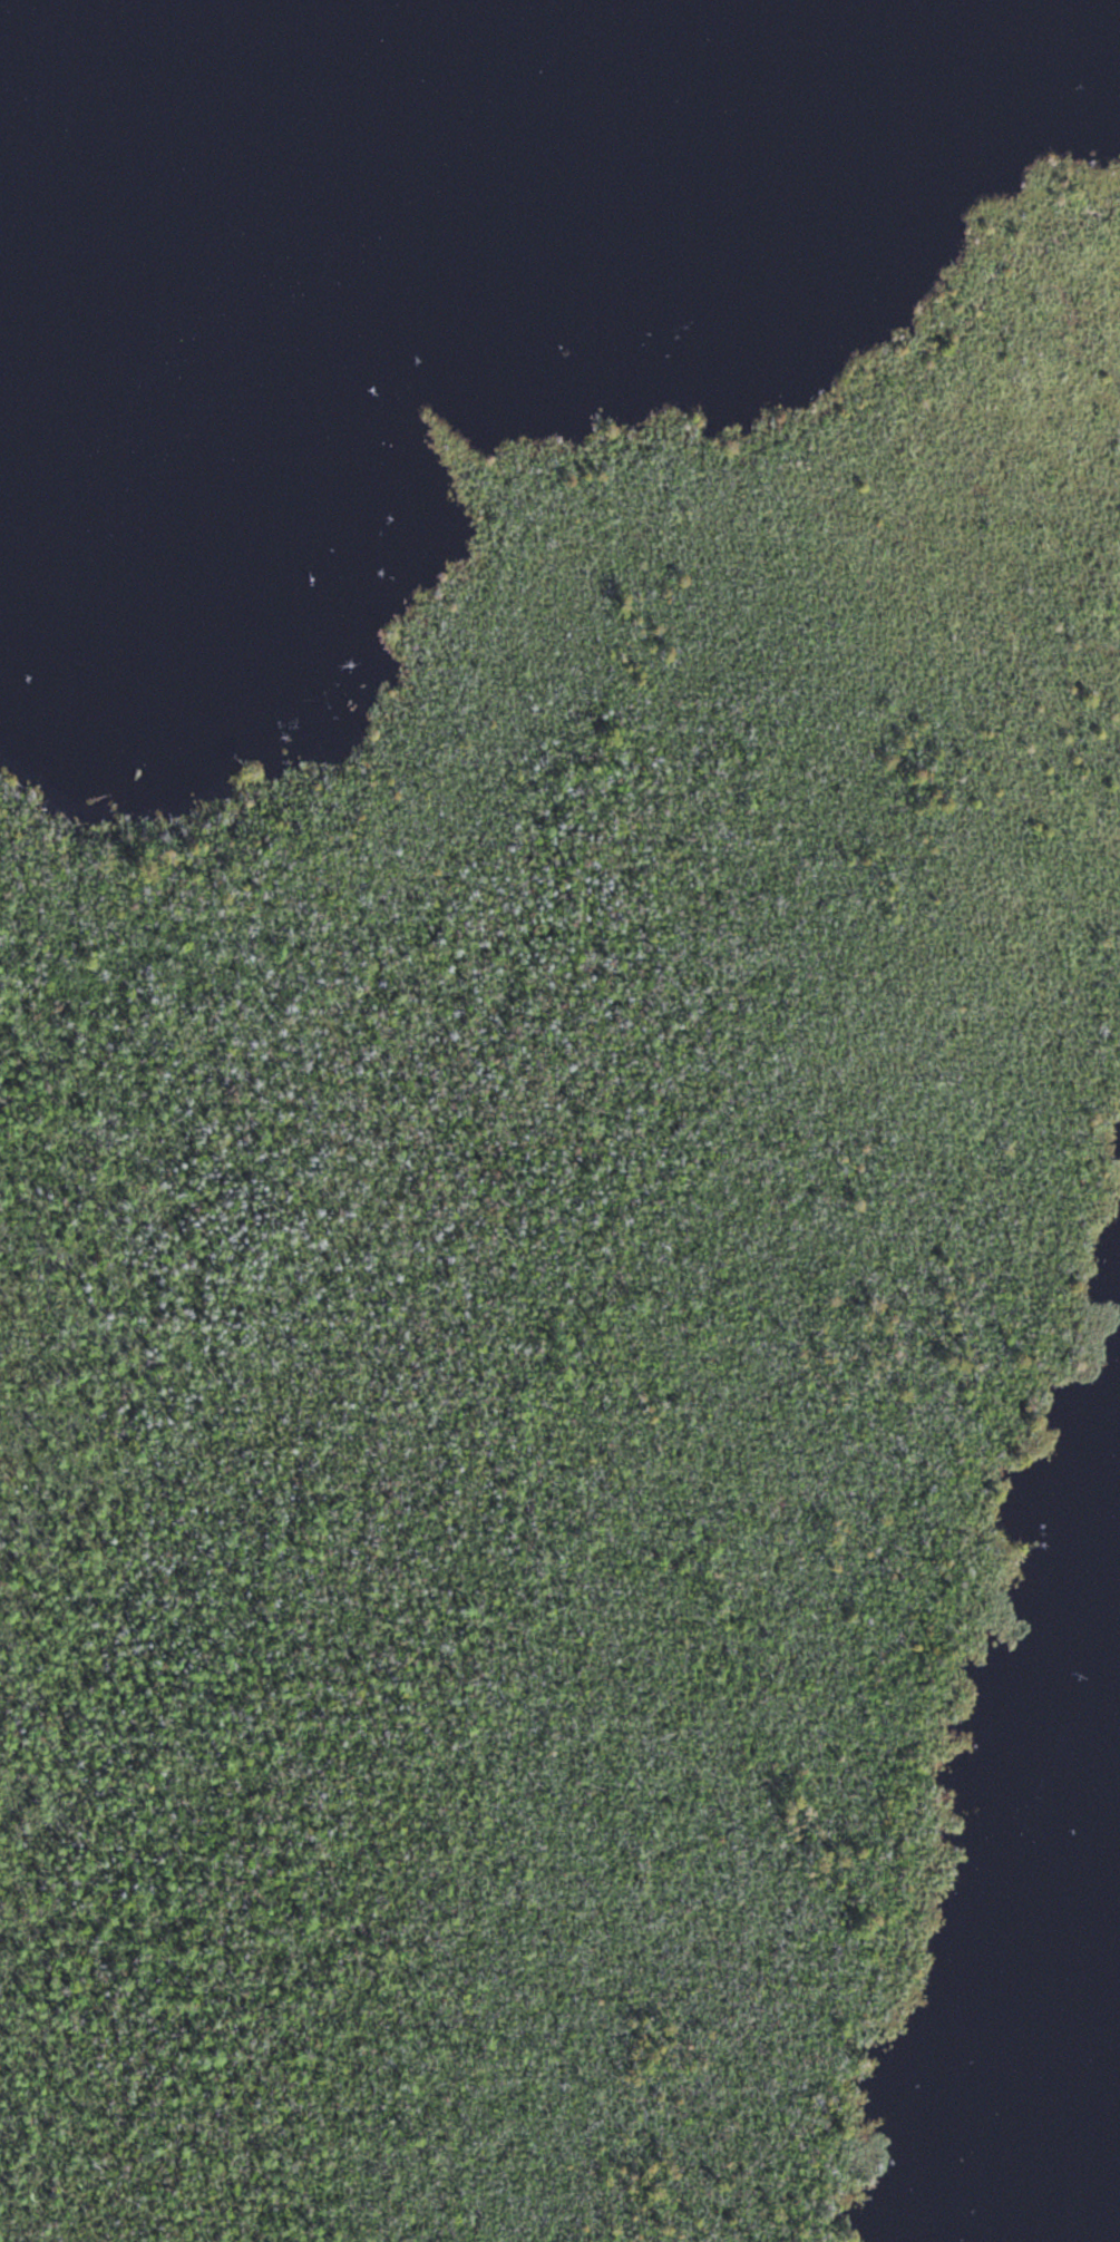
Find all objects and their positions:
river: (133, 22)

